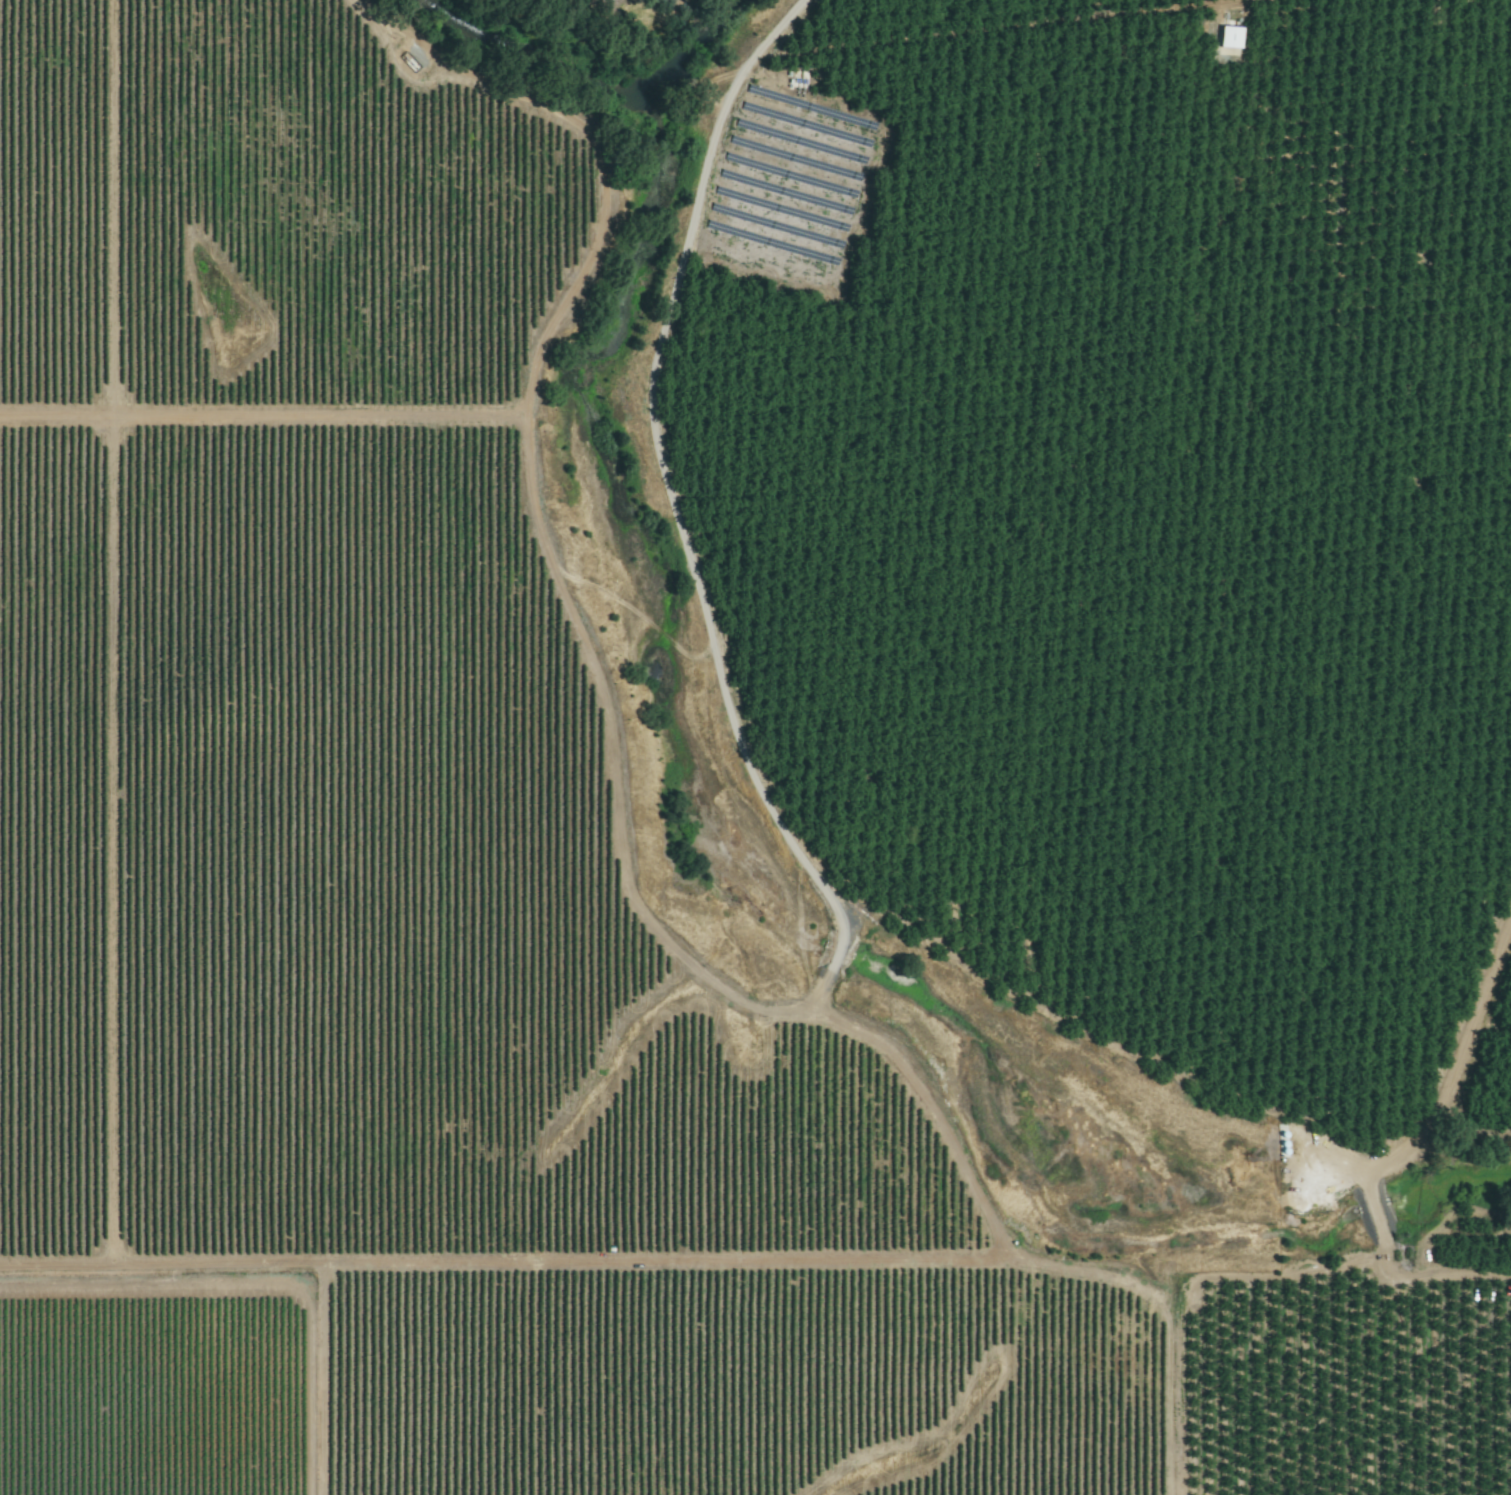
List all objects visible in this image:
building: (1228, 37)

